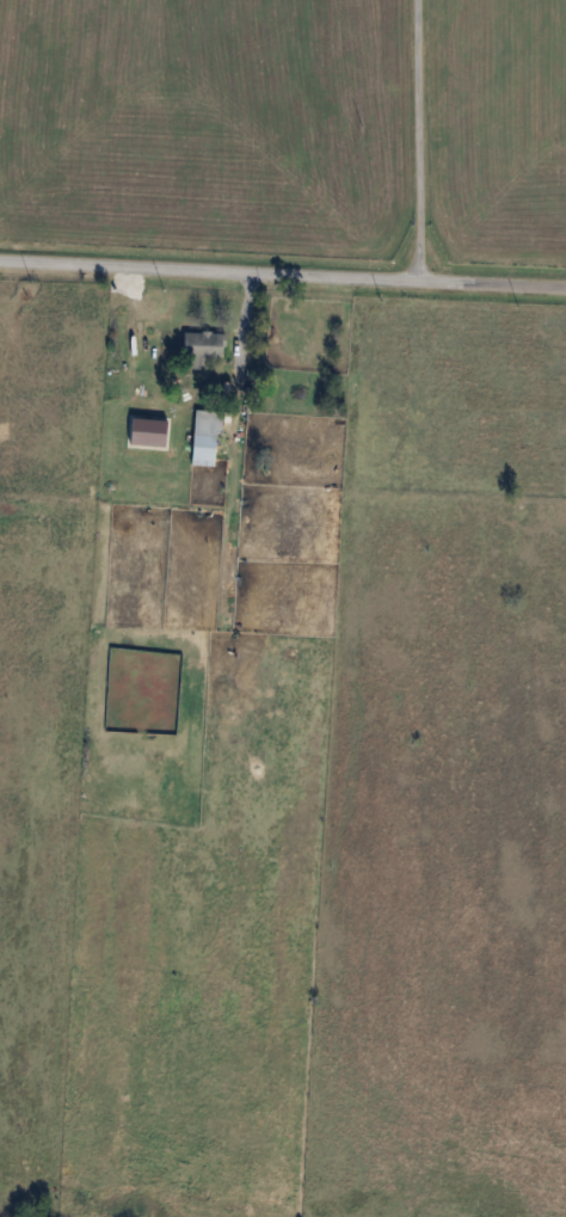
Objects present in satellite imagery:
road: (418, 140)
road: (283, 272)
building: (205, 348)
building: (113, 391)
building: (208, 437)

